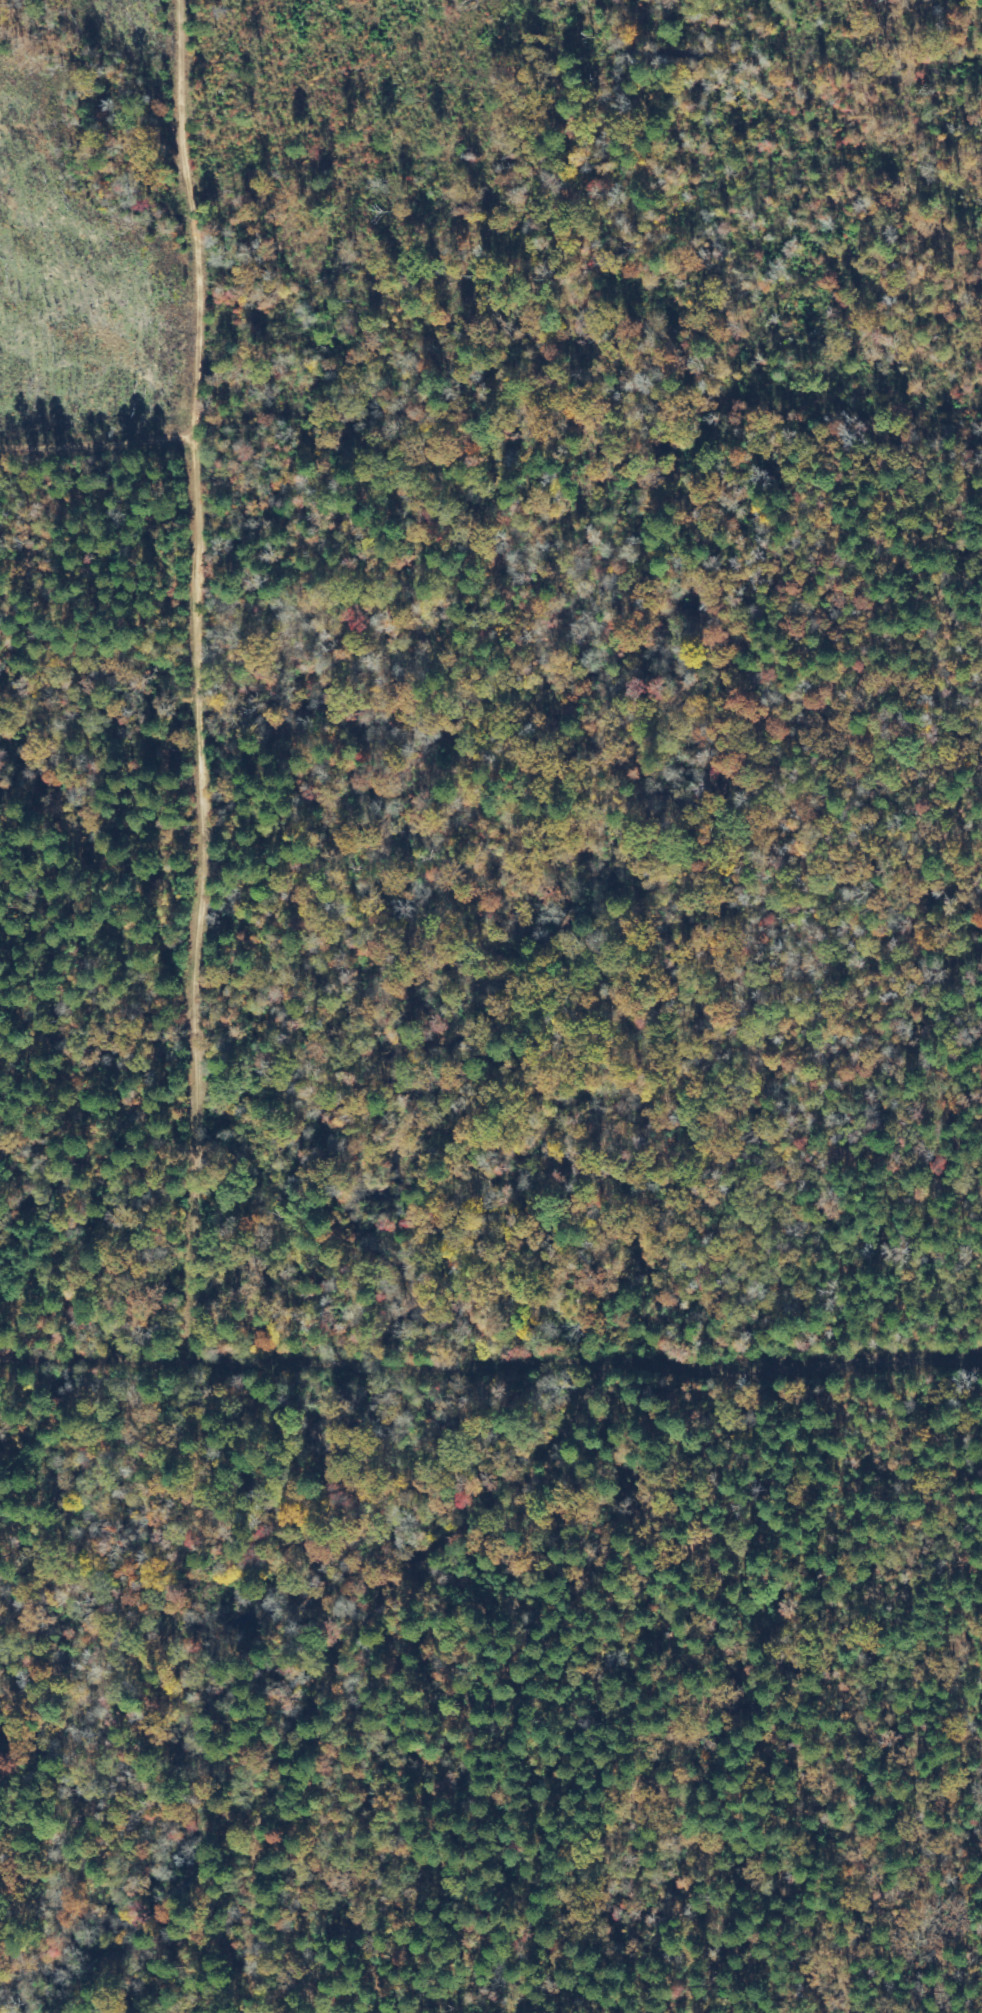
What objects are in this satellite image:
road: (225, 673)
road: (490, 1355)
road: (324, 1647)

